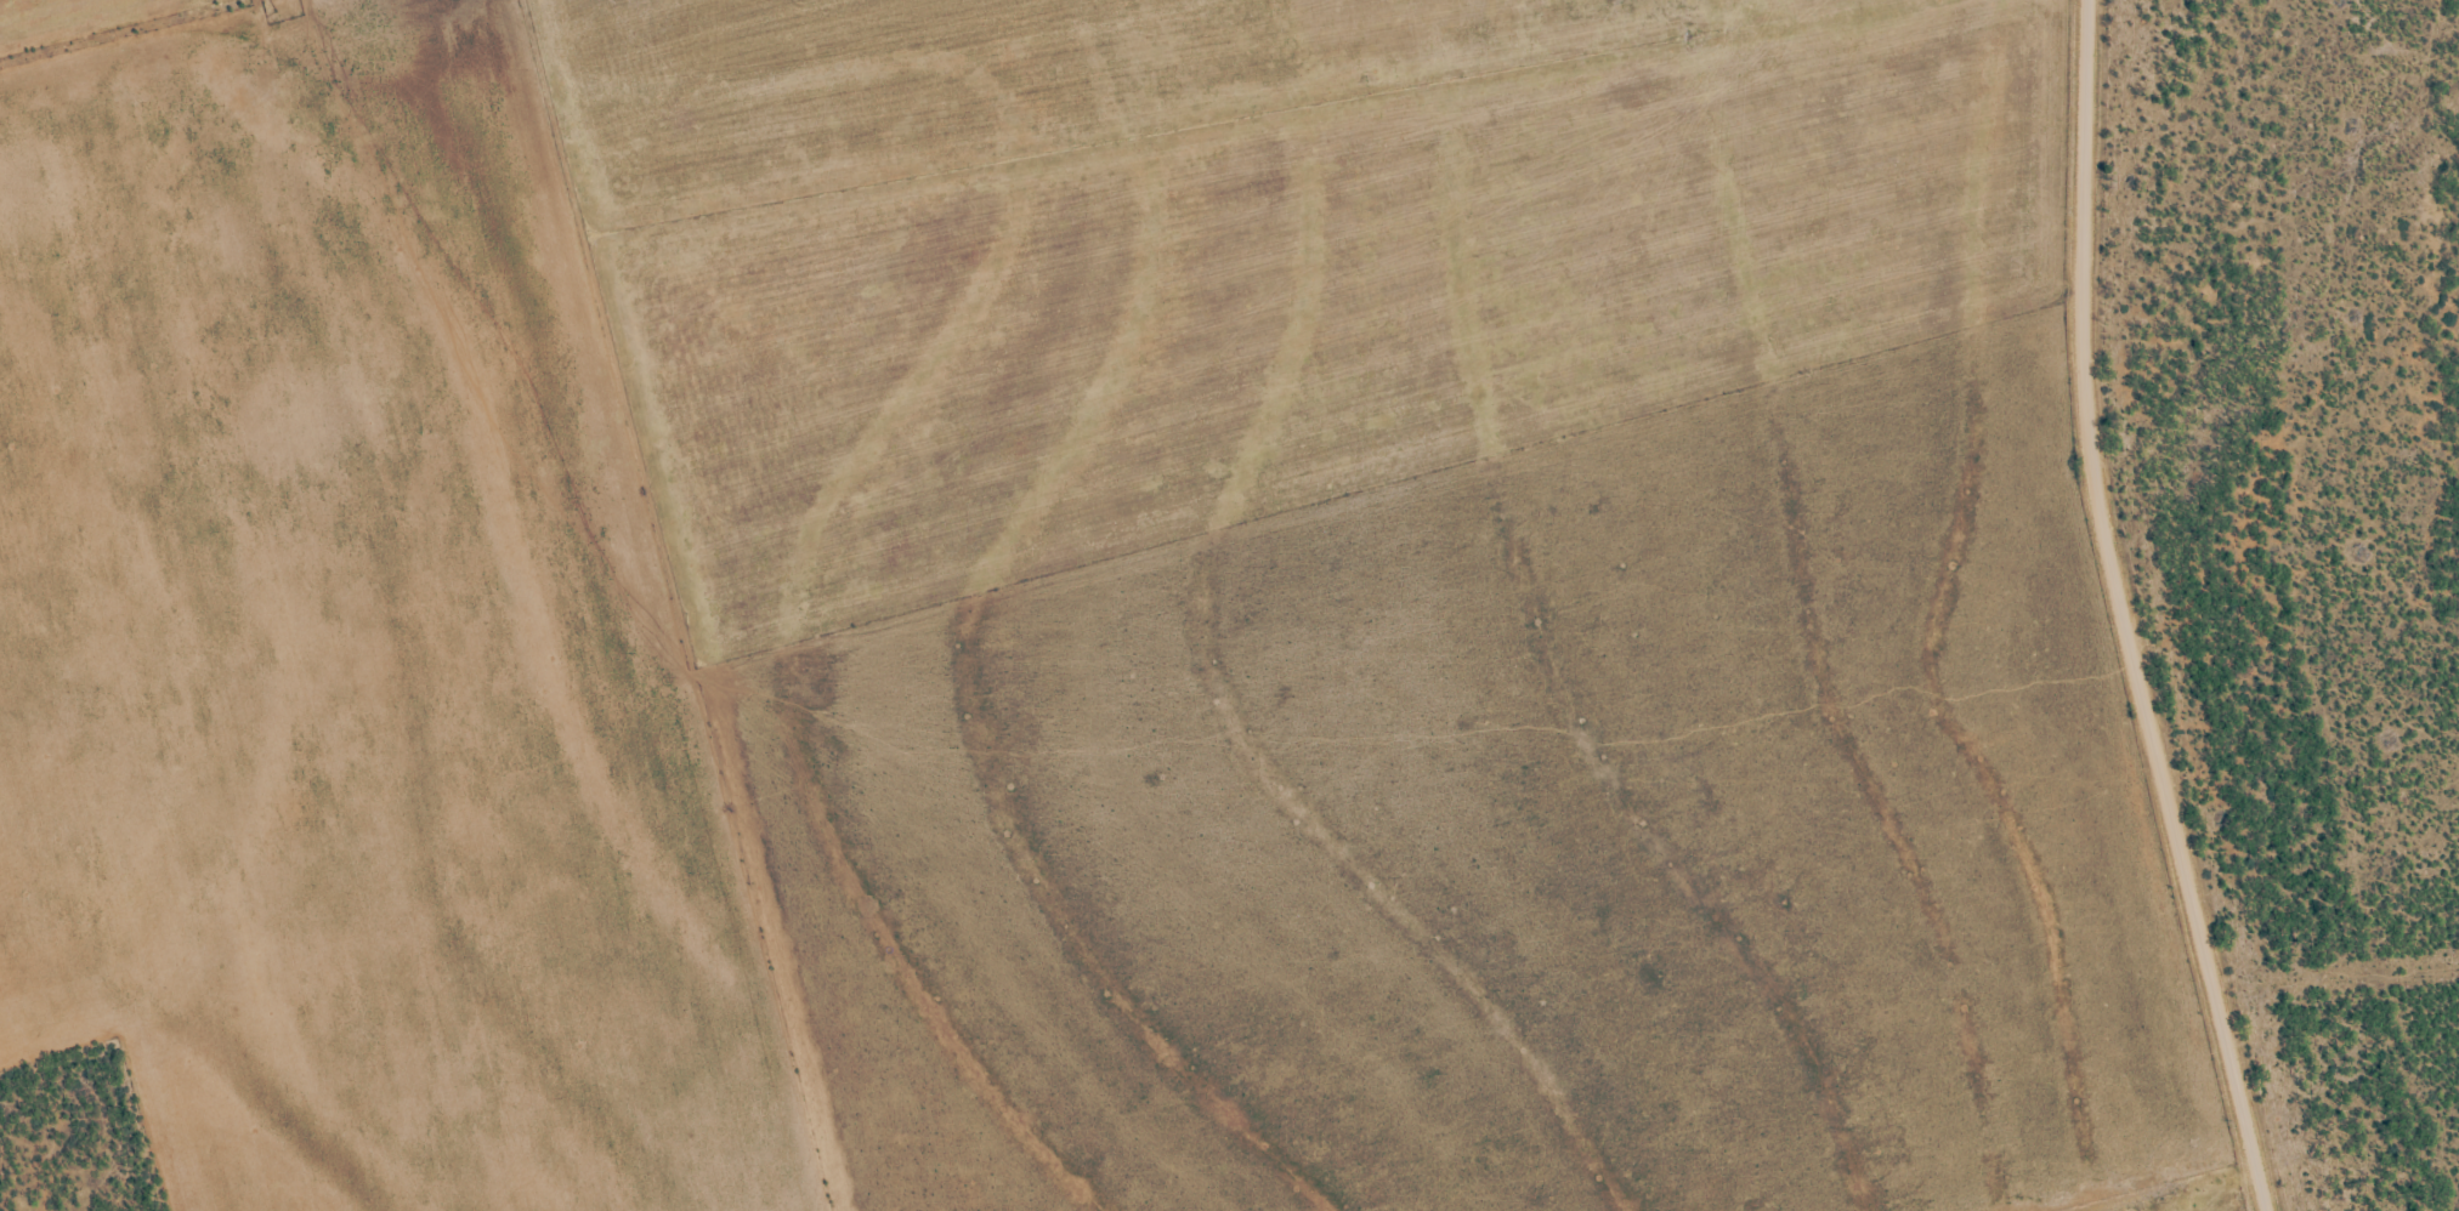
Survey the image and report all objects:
road: (2130, 610)

